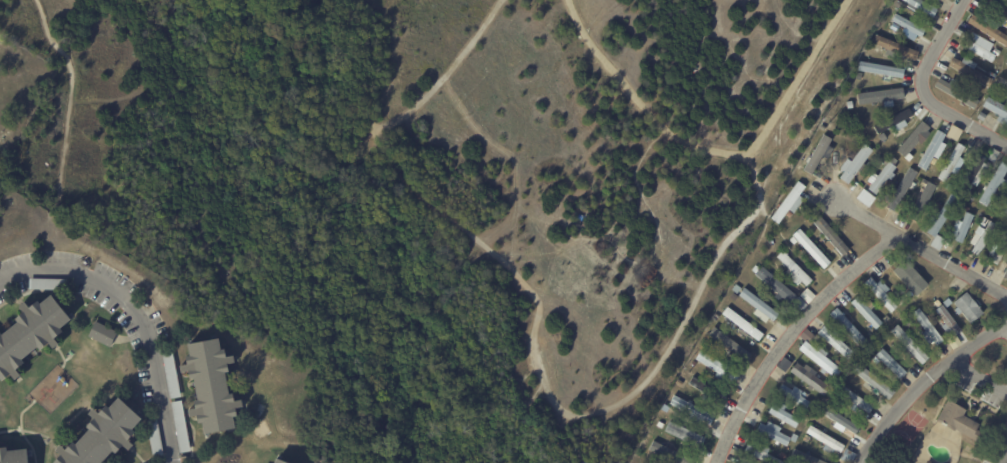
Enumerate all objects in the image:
building: (900, 4)
building: (997, 6)
building: (923, 8)
building: (909, 25)
building: (894, 26)
building: (989, 27)
building: (894, 46)
building: (876, 48)
building: (979, 48)
building: (995, 51)
building: (1006, 63)
road: (356, 66)
building: (882, 67)
building: (969, 69)
building: (990, 74)
building: (1001, 86)
park: (20, 90)
road: (924, 90)
building: (880, 96)
road: (68, 103)
building: (918, 107)
building: (997, 109)
building: (981, 116)
building: (895, 121)
building: (823, 127)
building: (882, 137)
building: (914, 138)
building: (932, 149)
road: (715, 151)
building: (818, 154)
building: (853, 154)
building: (993, 154)
building: (952, 163)
building: (855, 164)
building: (974, 172)
building: (882, 176)
park: (441, 181)
building: (923, 183)
building: (995, 184)
building: (930, 185)
building: (949, 186)
building: (903, 189)
building: (864, 197)
building: (972, 197)
building: (1001, 197)
building: (941, 199)
building: (790, 203)
building: (921, 203)
building: (938, 205)
building: (991, 208)
building: (966, 209)
building: (1004, 211)
building: (941, 216)
building: (983, 222)
building: (964, 227)
building: (831, 236)
building: (983, 238)
building: (769, 241)
building: (937, 242)
road: (920, 245)
building: (810, 248)
building: (999, 249)
building: (880, 266)
building: (793, 269)
building: (1006, 276)
building: (907, 278)
building: (773, 284)
building: (736, 289)
building: (880, 293)
building: (907, 294)
building: (807, 295)
building: (900, 301)
building: (948, 302)
building: (798, 303)
building: (938, 303)
building: (759, 304)
building: (969, 307)
road: (138, 311)
building: (866, 312)
building: (717, 317)
building: (948, 321)
building: (742, 323)
building: (849, 326)
road: (538, 327)
building: (927, 328)
building: (707, 331)
building: (105, 334)
road: (789, 334)
building: (32, 335)
building: (804, 337)
building: (891, 337)
building: (834, 340)
building: (894, 345)
building: (908, 345)
building: (730, 346)
building: (818, 358)
building: (877, 360)
building: (890, 363)
building: (694, 364)
building: (784, 364)
building: (717, 367)
building: (170, 374)
building: (809, 378)
building: (875, 381)
building: (678, 382)
road: (924, 382)
building: (214, 386)
building: (708, 389)
building: (796, 395)
building: (854, 400)
building: (692, 409)
building: (794, 411)
building: (785, 415)
building: (875, 415)
building: (688, 417)
building: (840, 420)
building: (958, 420)
building: (659, 424)
building: (180, 425)
building: (773, 432)
building: (683, 434)
building: (105, 435)
building: (155, 438)
building: (826, 439)
building: (670, 453)
building: (762, 453)
road: (1004, 454)
building: (783, 455)
building: (15, 456)
building: (847, 456)
building: (804, 457)
building: (282, 461)
building: (928, 462)

